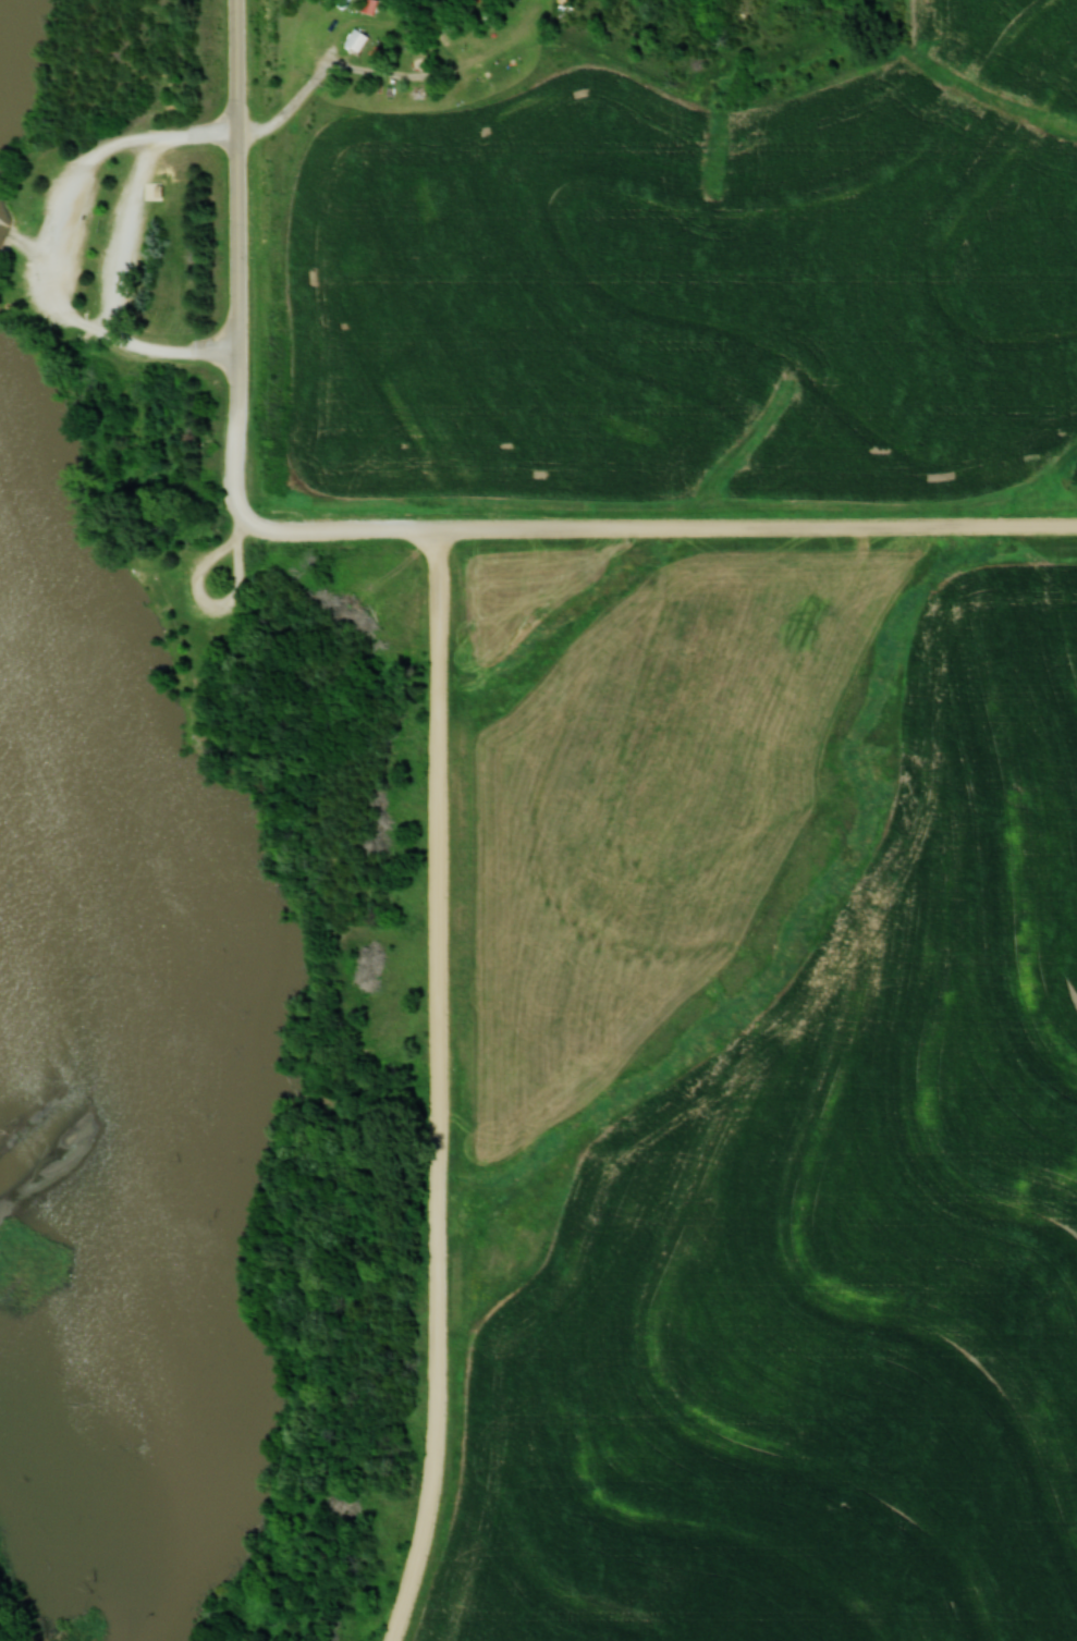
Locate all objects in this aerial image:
building: (360, 39)
road: (293, 105)
building: (154, 189)
road: (242, 208)
road: (125, 237)
road: (30, 244)
parking lot: (60, 244)
parking lot: (123, 246)
road: (59, 249)
road: (240, 469)
road: (342, 532)
road: (759, 532)
parking lot: (195, 556)
road: (208, 602)
park: (197, 910)
road: (439, 1089)

